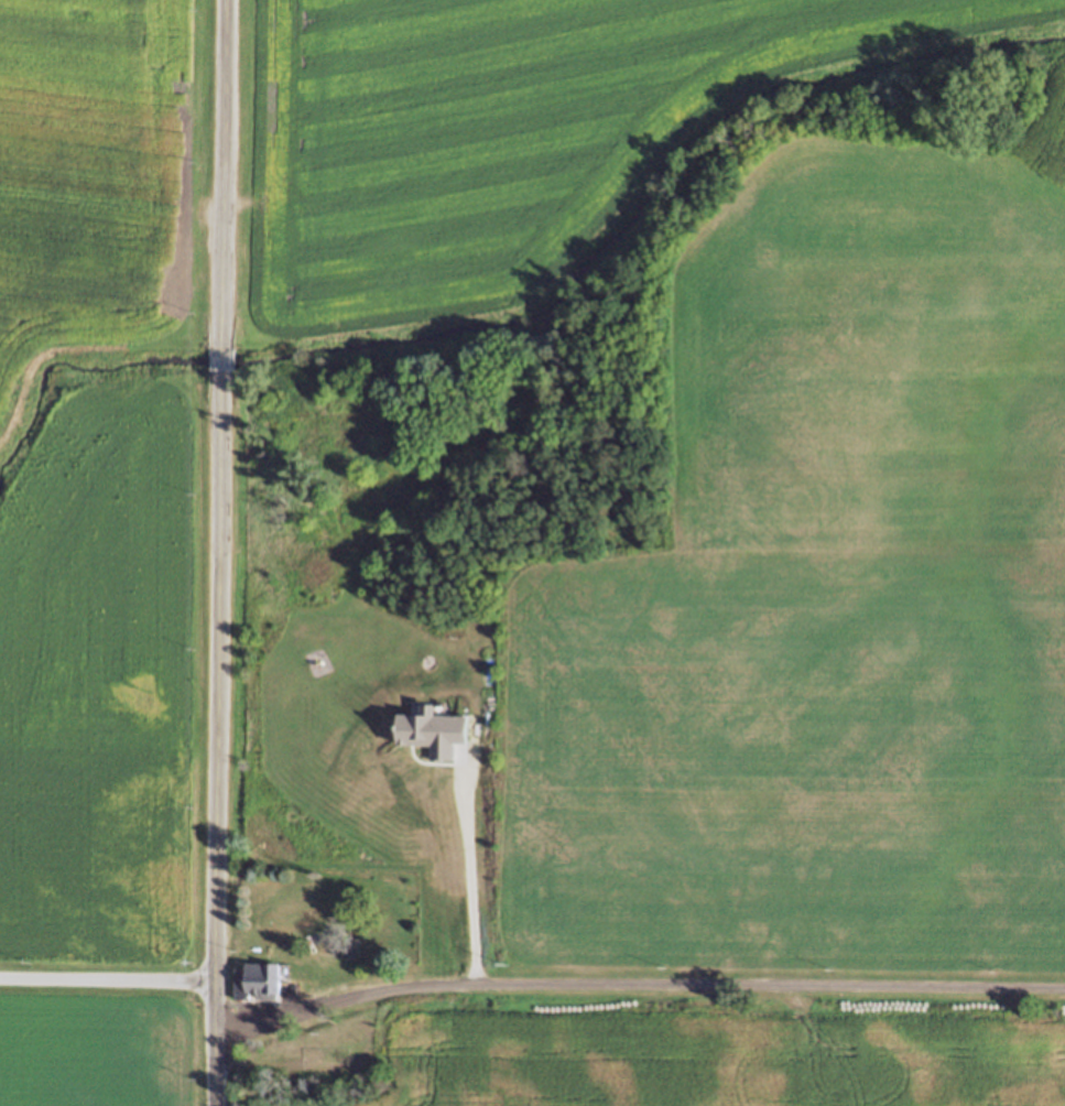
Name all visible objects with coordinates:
road: (226, 172)
road: (222, 364)
road: (218, 744)
road: (463, 867)
road: (108, 980)
building: (256, 984)
road: (637, 985)

